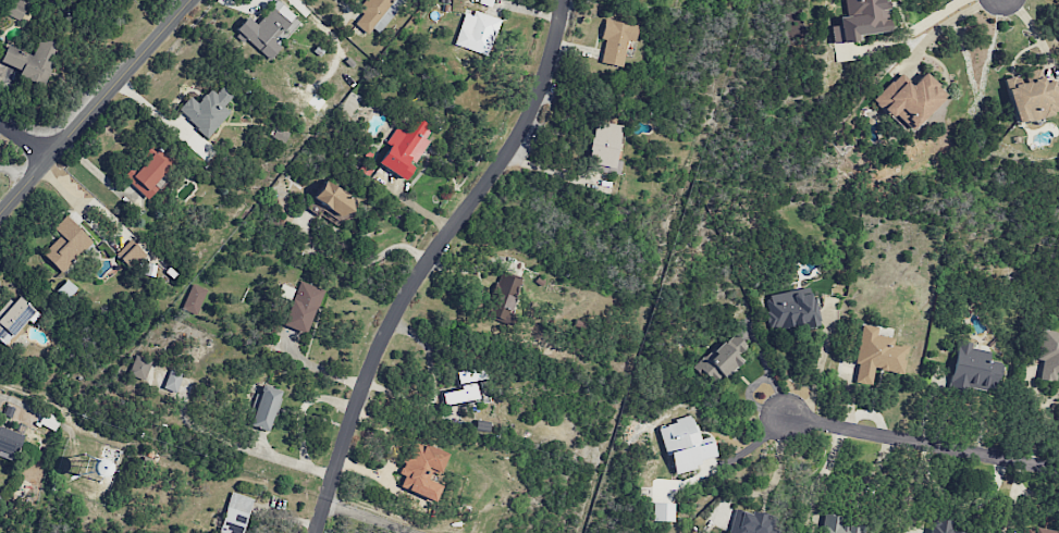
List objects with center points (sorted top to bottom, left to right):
road: (342, 4)
building: (15, 9)
building: (371, 13)
building: (860, 21)
road: (939, 26)
building: (267, 29)
building: (476, 32)
road: (904, 32)
road: (1037, 36)
building: (616, 40)
building: (32, 60)
building: (1031, 97)
building: (909, 99)
road: (95, 107)
building: (207, 110)
road: (24, 140)
building: (405, 147)
building: (604, 147)
building: (147, 175)
building: (332, 200)
building: (66, 244)
building: (130, 253)
road: (429, 260)
road: (359, 262)
building: (504, 298)
building: (194, 299)
building: (303, 307)
building: (791, 309)
building: (14, 317)
building: (1049, 355)
building: (876, 356)
building: (722, 358)
building: (139, 367)
building: (974, 369)
building: (172, 380)
building: (465, 386)
building: (263, 408)
road: (919, 441)
building: (9, 443)
building: (686, 445)
building: (421, 469)
road: (823, 474)
building: (662, 511)
building: (235, 513)
road: (373, 516)
building: (749, 522)
building: (838, 525)
building: (941, 525)
building: (1035, 530)

